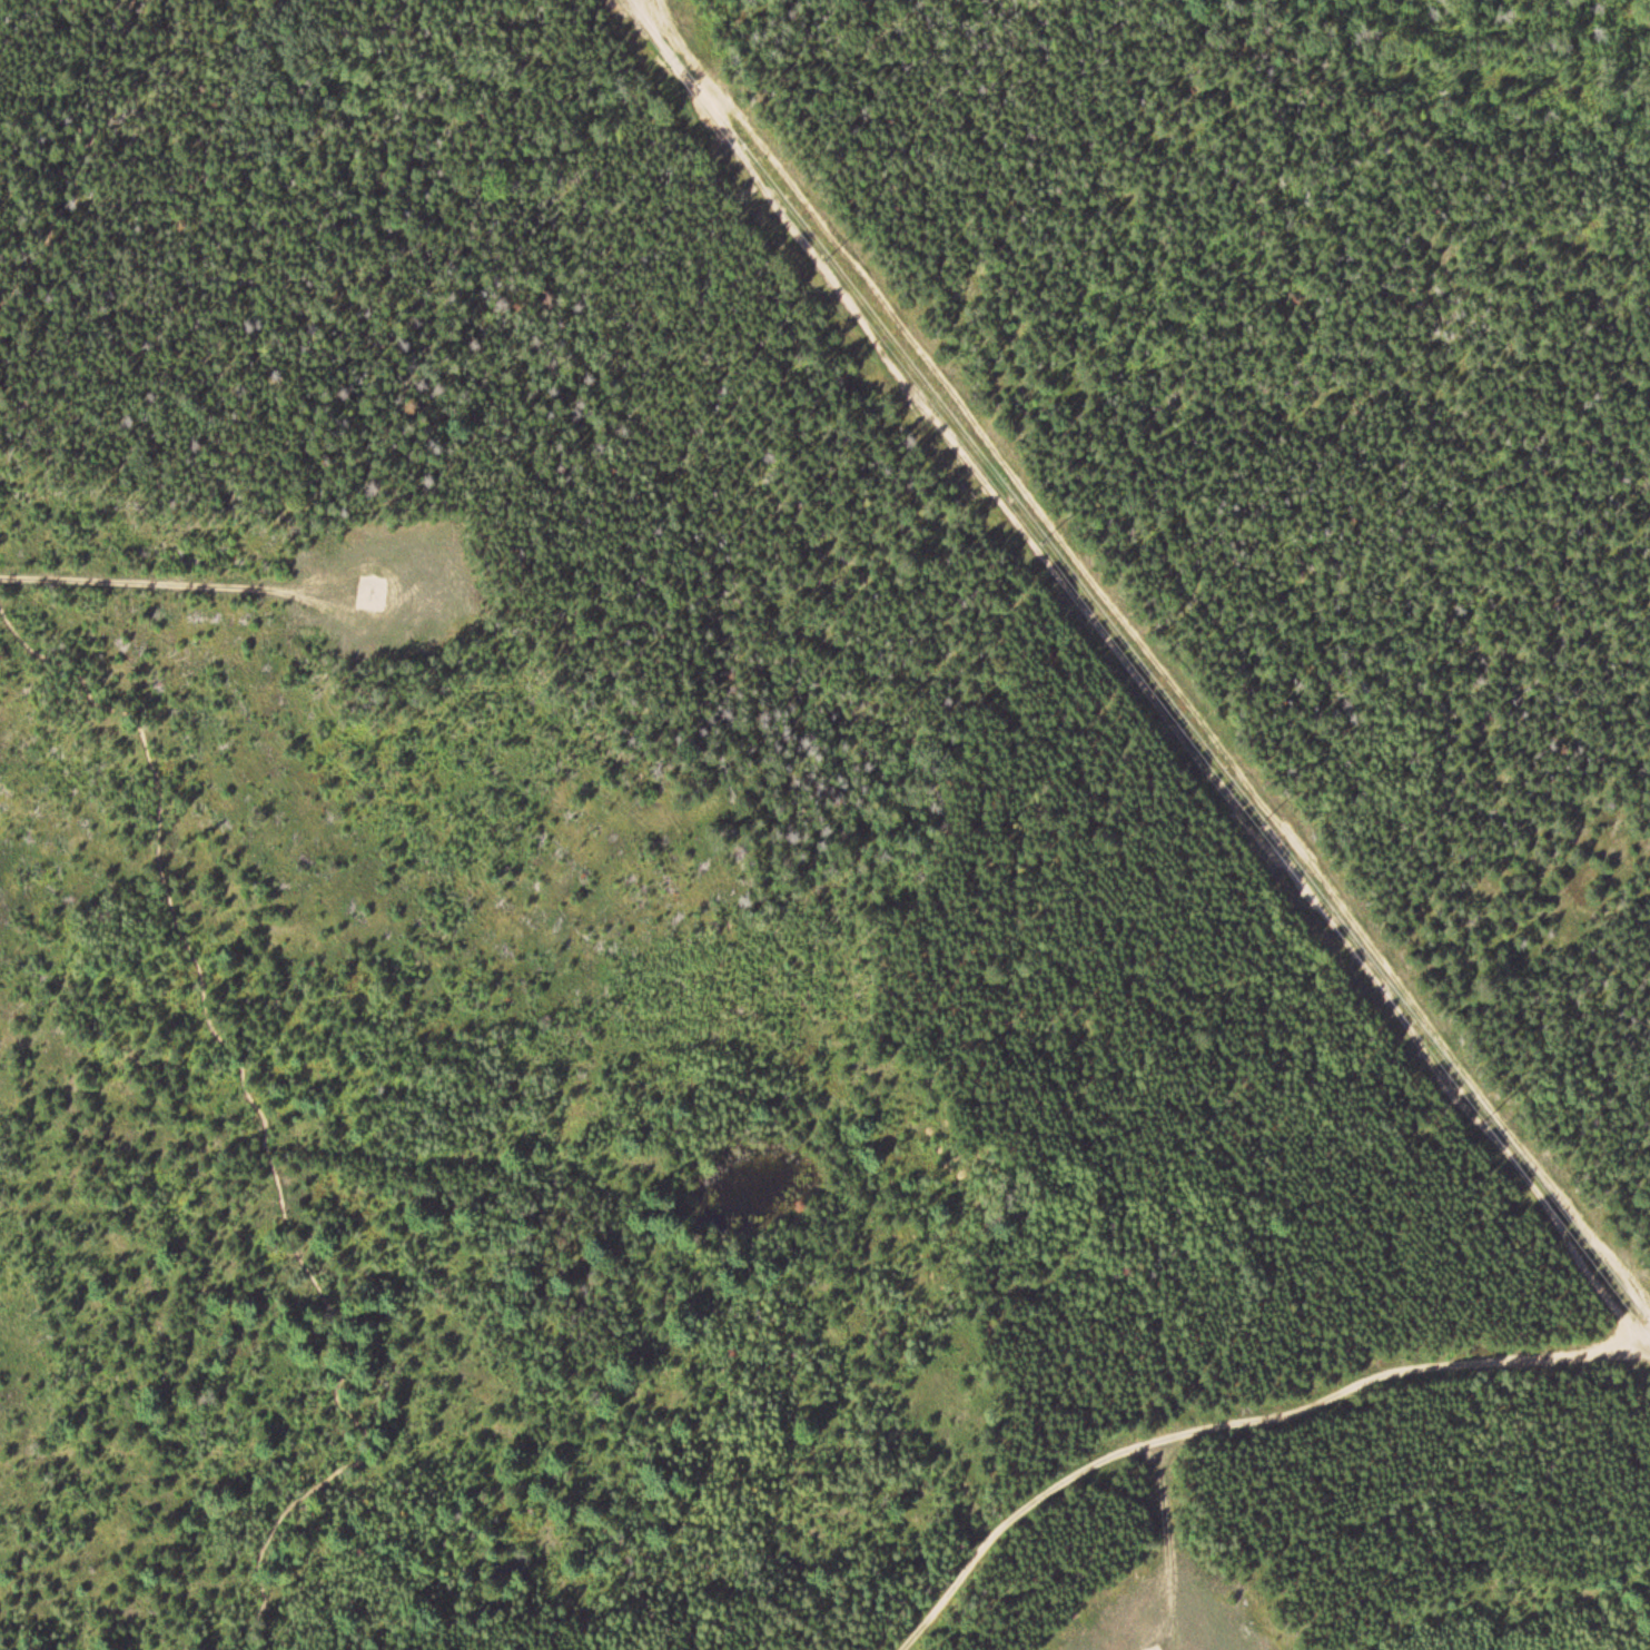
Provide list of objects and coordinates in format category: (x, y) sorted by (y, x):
road: (88, 159)
road: (166, 587)
road: (1133, 670)
road: (261, 1118)
road: (1404, 1371)
road: (1007, 1506)
road: (1175, 1544)

